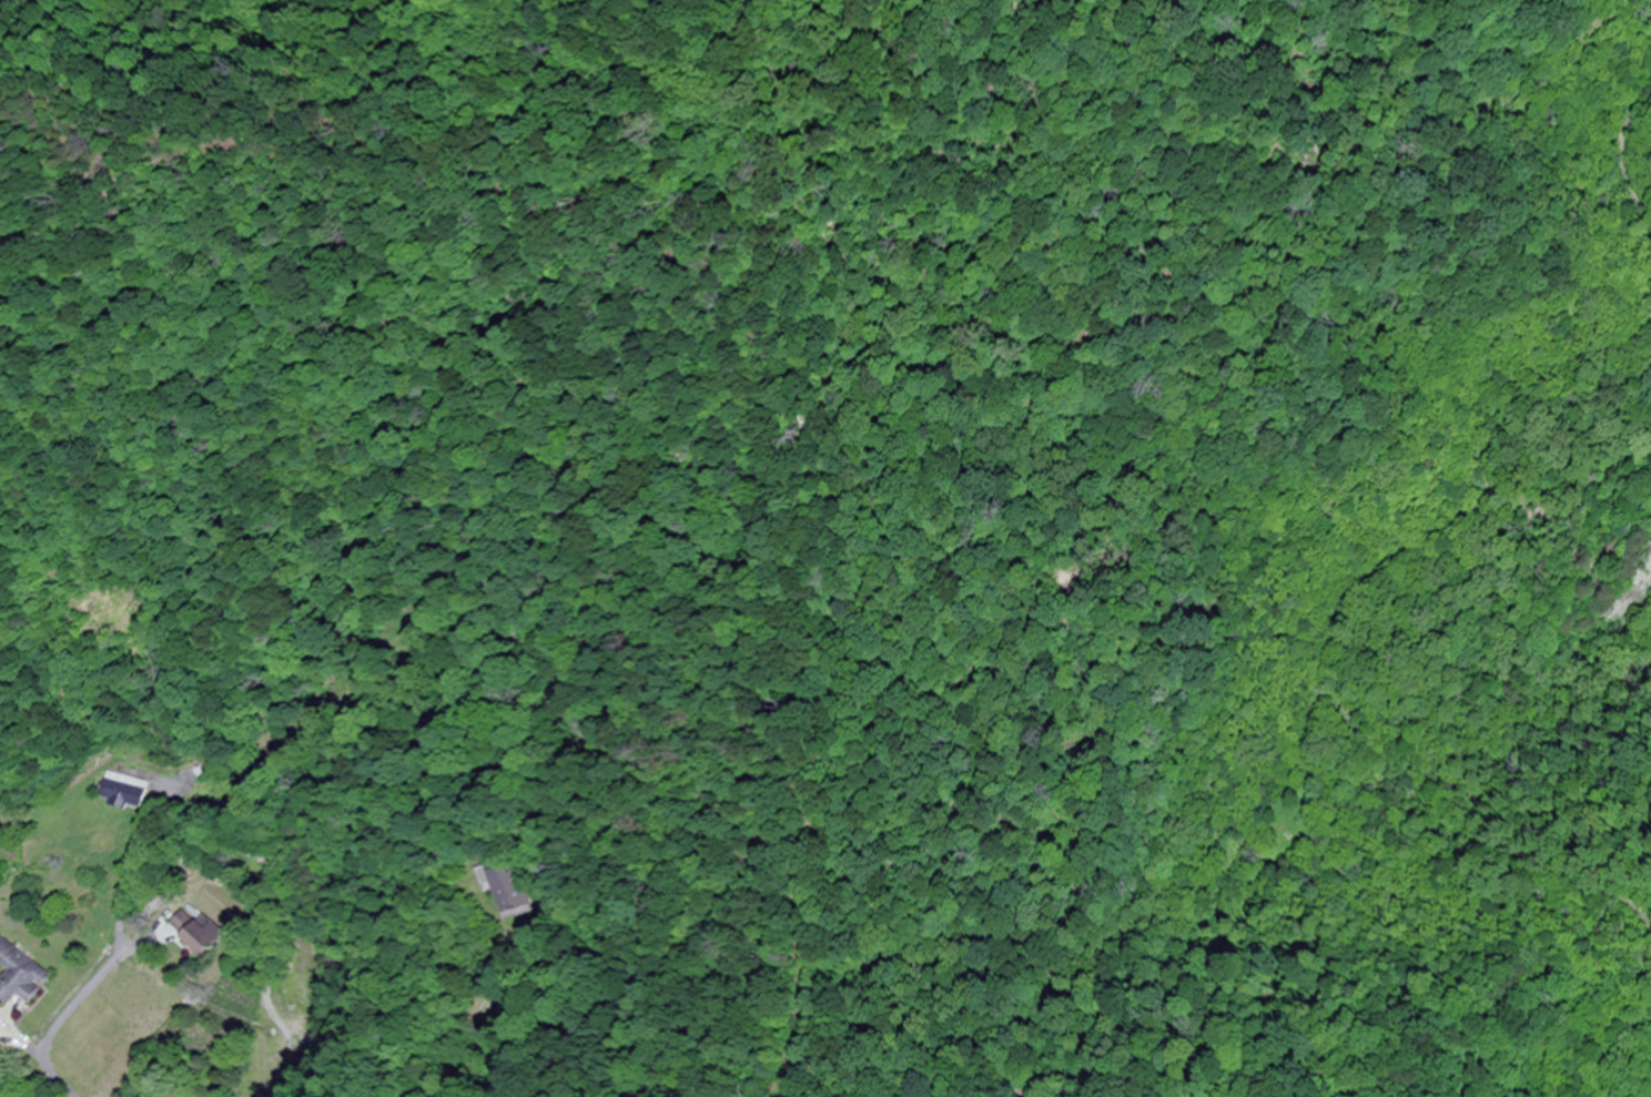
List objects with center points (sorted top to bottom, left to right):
road: (348, 430)
road: (170, 771)
building: (120, 792)
building: (508, 890)
building: (196, 933)
road: (166, 968)
building: (21, 975)
building: (1, 1028)

